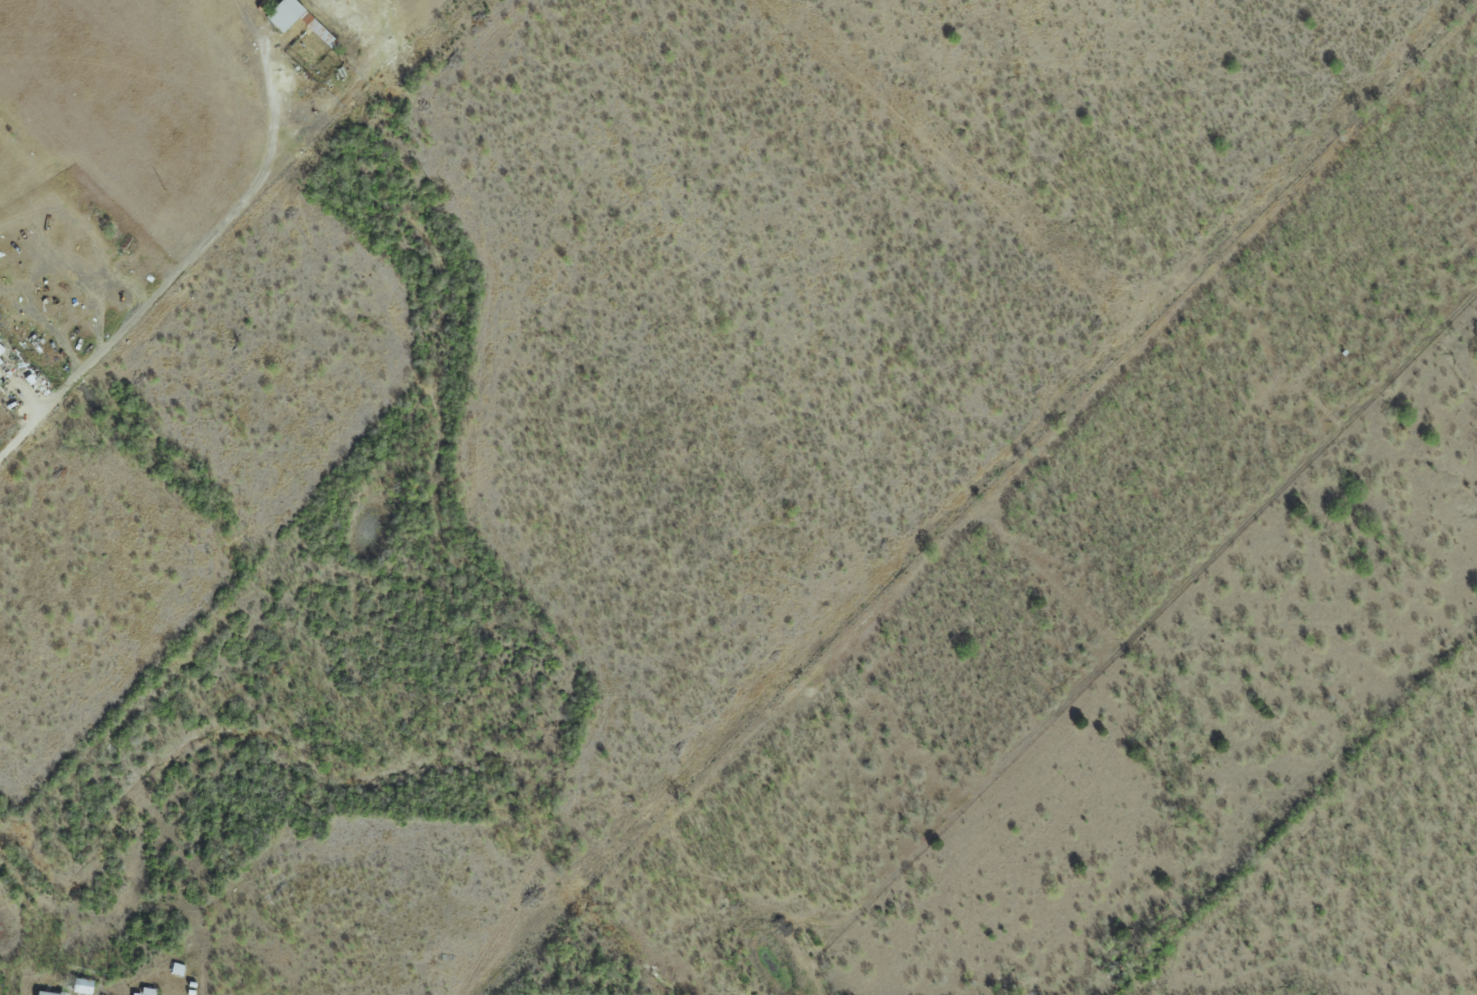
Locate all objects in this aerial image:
building: (283, 13)
road: (204, 246)
road: (26, 432)
building: (81, 986)
building: (145, 991)
building: (47, 993)

